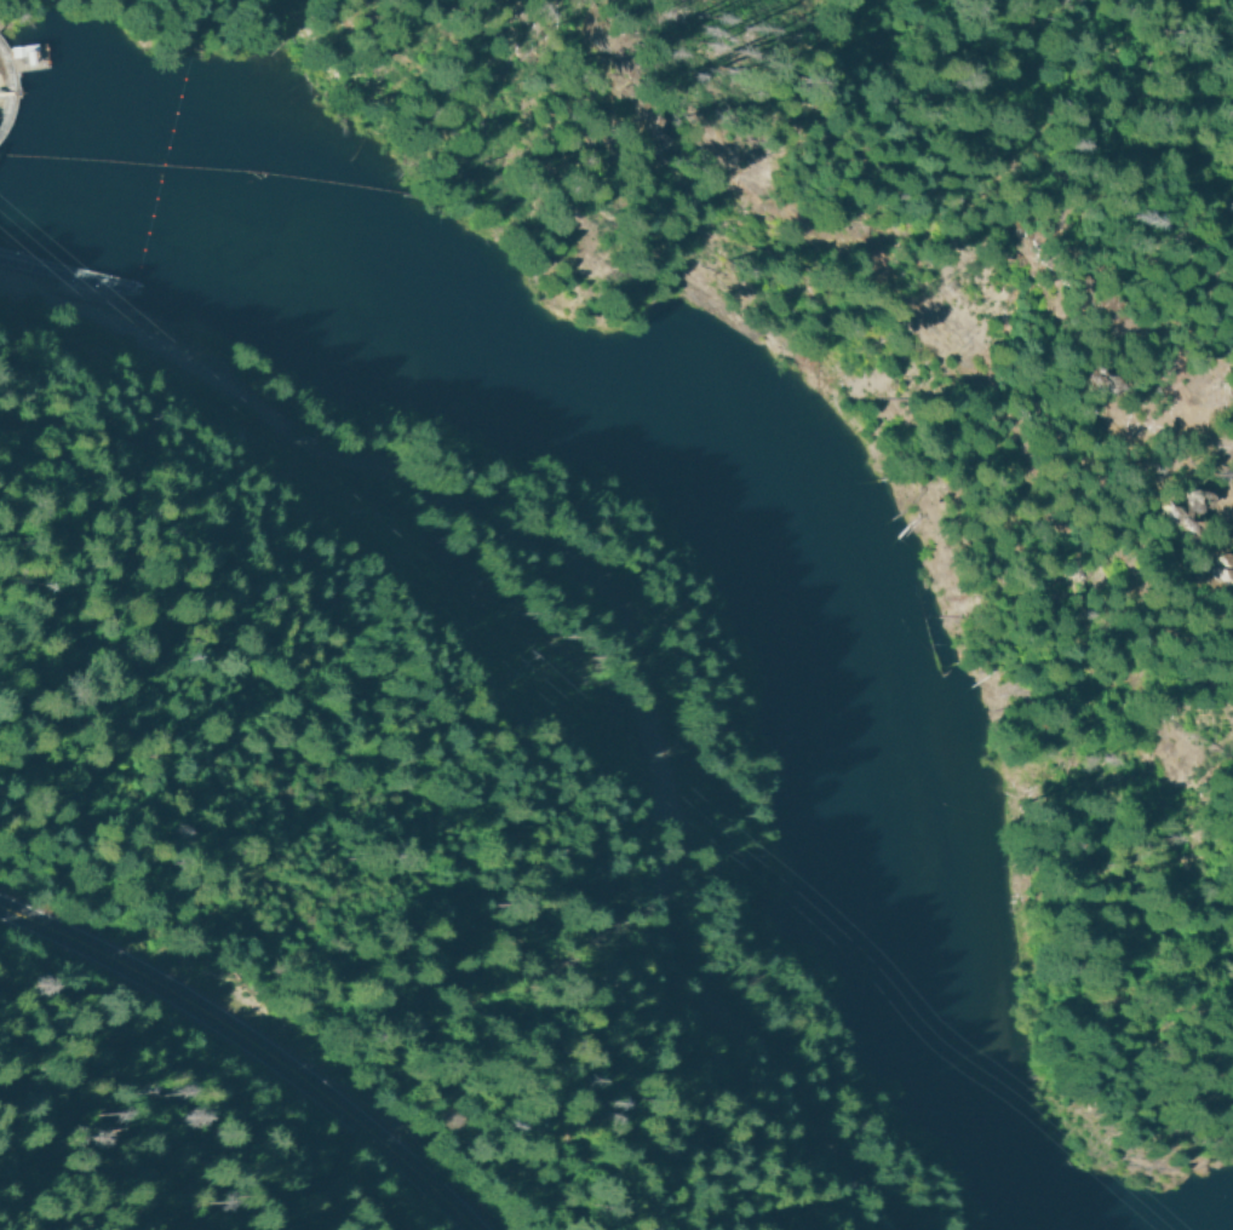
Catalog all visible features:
dam: (11, 88)
road: (905, 343)
river: (753, 496)
road: (607, 621)
road: (246, 1046)

